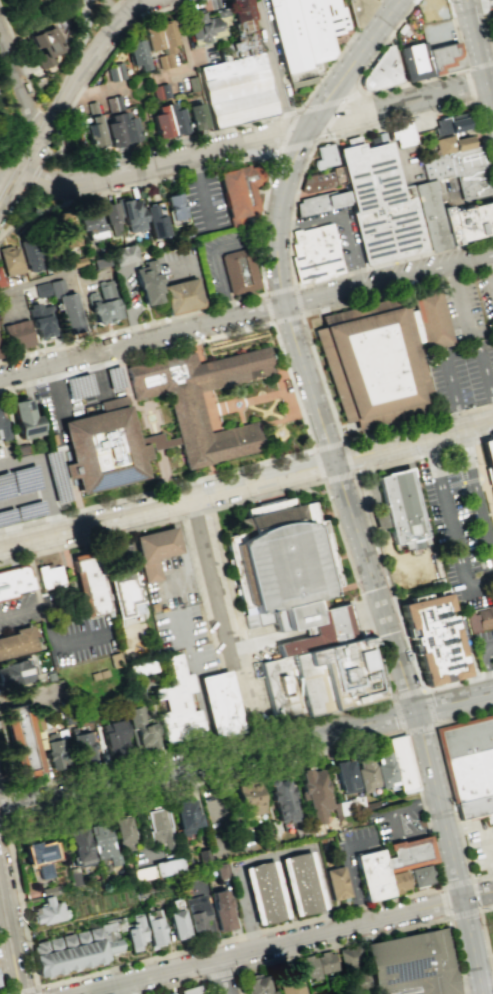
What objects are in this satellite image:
road: (120, 3)
road: (480, 4)
road: (119, 9)
building: (361, 9)
parking lot: (492, 14)
road: (486, 18)
building: (245, 19)
building: (204, 24)
road: (452, 32)
parking lot: (437, 33)
building: (305, 35)
building: (160, 36)
road: (100, 44)
building: (44, 45)
road: (486, 49)
road: (18, 50)
road: (479, 53)
building: (138, 54)
road: (338, 55)
building: (443, 58)
building: (414, 60)
building: (165, 61)
road: (274, 65)
building: (380, 70)
road: (467, 72)
building: (116, 73)
building: (193, 83)
road: (20, 85)
road: (395, 87)
building: (236, 89)
building: (161, 92)
road: (491, 93)
railway: (53, 100)
road: (492, 103)
road: (297, 110)
road: (287, 113)
building: (197, 116)
building: (168, 121)
building: (119, 123)
building: (450, 124)
building: (93, 126)
road: (320, 134)
building: (403, 135)
road: (248, 141)
road: (25, 142)
road: (63, 152)
building: (325, 156)
road: (395, 157)
road: (29, 158)
road: (416, 158)
road: (238, 159)
parking lot: (408, 166)
road: (34, 172)
building: (463, 173)
building: (323, 178)
road: (202, 190)
building: (239, 191)
road: (93, 194)
road: (297, 194)
parking lot: (447, 194)
parking lot: (203, 203)
building: (323, 203)
building: (381, 204)
building: (174, 206)
road: (463, 206)
building: (131, 215)
building: (432, 215)
road: (343, 219)
building: (111, 220)
building: (154, 221)
building: (470, 222)
building: (91, 224)
building: (68, 230)
parking lot: (340, 235)
road: (451, 235)
building: (316, 253)
building: (29, 254)
building: (125, 256)
parking lot: (220, 260)
building: (11, 261)
building: (78, 261)
parking lot: (180, 265)
road: (488, 268)
road: (489, 269)
road: (220, 271)
road: (76, 273)
building: (241, 274)
road: (201, 278)
road: (389, 279)
building: (2, 281)
building: (151, 285)
building: (42, 289)
parking lot: (129, 293)
building: (185, 296)
road: (459, 299)
road: (8, 303)
building: (104, 303)
parking lot: (12, 306)
building: (66, 306)
road: (127, 306)
parking lot: (470, 307)
road: (205, 308)
building: (432, 318)
building: (39, 319)
road: (271, 322)
road: (480, 331)
building: (17, 334)
road: (310, 338)
road: (142, 341)
road: (448, 359)
building: (372, 364)
road: (95, 372)
parking lot: (463, 375)
parking lot: (463, 378)
road: (56, 387)
parking lot: (80, 397)
road: (435, 397)
building: (202, 402)
road: (299, 407)
fountain: (241, 408)
road: (466, 410)
road: (149, 416)
building: (27, 422)
building: (4, 429)
building: (51, 439)
road: (413, 445)
building: (107, 450)
building: (488, 458)
road: (44, 480)
road: (324, 480)
road: (340, 484)
parking lot: (28, 485)
road: (476, 500)
road: (167, 507)
building: (401, 509)
road: (52, 512)
parking lot: (459, 528)
road: (451, 531)
road: (112, 542)
road: (377, 546)
building: (157, 551)
parking lot: (117, 556)
road: (187, 563)
building: (284, 564)
building: (51, 577)
building: (15, 583)
building: (93, 584)
parking lot: (174, 585)
road: (38, 593)
building: (125, 594)
parking lot: (222, 608)
parking lot: (220, 610)
parking lot: (19, 613)
building: (480, 619)
road: (370, 625)
building: (329, 627)
road: (222, 629)
parking lot: (185, 638)
building: (434, 638)
building: (16, 641)
parking lot: (84, 641)
road: (59, 642)
parking lot: (484, 648)
building: (140, 666)
road: (485, 666)
building: (13, 672)
building: (351, 672)
building: (310, 682)
road: (196, 687)
building: (281, 689)
road: (454, 701)
building: (223, 703)
building: (178, 704)
building: (138, 728)
road: (405, 732)
building: (113, 738)
building: (20, 740)
building: (82, 746)
building: (55, 753)
road: (208, 762)
building: (404, 765)
building: (470, 767)
building: (383, 769)
building: (364, 773)
building: (345, 776)
road: (449, 784)
building: (313, 793)
building: (247, 798)
building: (280, 799)
road: (5, 812)
building: (184, 815)
parking lot: (398, 821)
parking lot: (224, 823)
building: (156, 827)
road: (398, 827)
road: (482, 827)
building: (122, 832)
building: (101, 843)
building: (77, 844)
parking lot: (480, 845)
road: (240, 847)
parking lot: (361, 848)
building: (202, 855)
building: (411, 855)
building: (38, 857)
building: (220, 870)
road: (357, 873)
building: (374, 875)
building: (422, 877)
building: (336, 882)
building: (300, 883)
building: (401, 883)
building: (49, 890)
building: (263, 892)
building: (221, 908)
building: (50, 912)
building: (195, 915)
road: (448, 916)
road: (5, 921)
building: (175, 923)
building: (151, 926)
road: (12, 931)
building: (133, 931)
road: (368, 937)
road: (484, 938)
railway: (9, 942)
road: (289, 942)
road: (490, 955)
building: (348, 957)
road: (5, 963)
building: (411, 964)
building: (319, 968)
road: (219, 973)
road: (222, 977)
building: (356, 980)
road: (179, 983)
building: (292, 983)
building: (258, 985)
road: (38, 988)
road: (0, 989)
building: (187, 990)
road: (27, 991)
building: (167, 993)
building: (366, 993)

